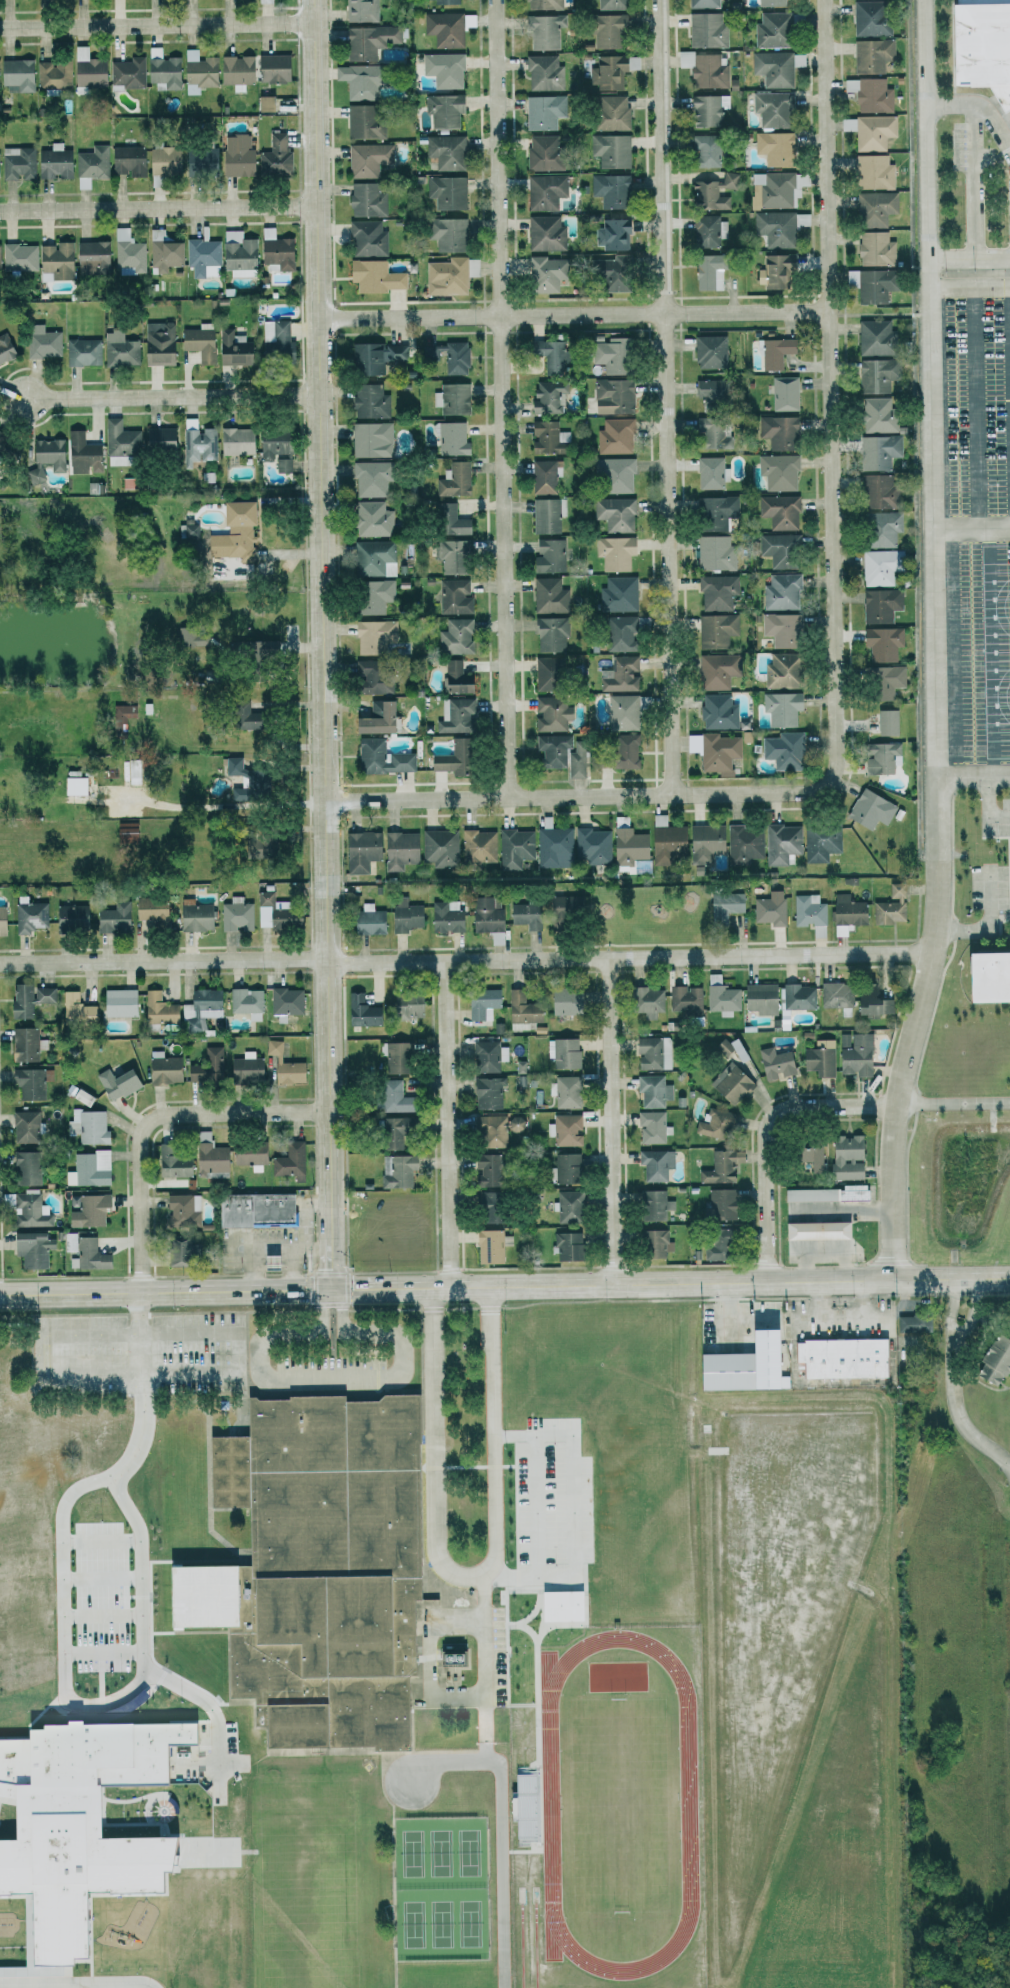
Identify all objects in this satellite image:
building: (263, 1)
building: (443, 1)
building: (771, 2)
building: (542, 3)
building: (703, 3)
building: (610, 4)
building: (360, 10)
building: (870, 18)
road: (157, 27)
building: (444, 28)
building: (605, 28)
building: (707, 29)
building: (772, 29)
building: (542, 31)
building: (368, 40)
building: (983, 45)
building: (871, 54)
building: (797, 60)
building: (272, 68)
building: (773, 68)
building: (443, 69)
building: (703, 69)
building: (610, 70)
building: (87, 71)
building: (198, 71)
building: (236, 71)
building: (127, 73)
building: (164, 73)
building: (544, 73)
building: (16, 75)
building: (52, 75)
building: (357, 80)
building: (869, 94)
building: (264, 103)
road: (977, 105)
building: (707, 109)
building: (772, 109)
building: (443, 110)
building: (542, 112)
building: (611, 113)
building: (362, 122)
building: (873, 132)
building: (774, 147)
building: (610, 150)
building: (445, 151)
building: (704, 151)
building: (543, 152)
building: (235, 155)
building: (275, 157)
building: (366, 159)
building: (126, 160)
building: (162, 160)
building: (199, 160)
building: (17, 162)
building: (90, 162)
building: (52, 163)
building: (870, 171)
road: (973, 182)
building: (772, 189)
building: (610, 190)
building: (544, 191)
building: (447, 192)
building: (712, 192)
building: (874, 208)
road: (157, 211)
building: (775, 228)
building: (707, 230)
building: (446, 233)
building: (545, 233)
building: (611, 234)
building: (366, 238)
building: (874, 248)
building: (127, 252)
building: (162, 252)
building: (275, 252)
building: (236, 253)
building: (19, 256)
building: (91, 257)
building: (201, 257)
road: (969, 259)
building: (55, 261)
building: (771, 270)
building: (708, 272)
building: (607, 273)
building: (543, 274)
building: (373, 276)
building: (446, 276)
building: (870, 284)
road: (970, 287)
road: (880, 313)
road: (573, 318)
building: (275, 341)
building: (157, 342)
building: (42, 343)
building: (197, 343)
building: (5, 348)
building: (231, 348)
building: (118, 349)
building: (82, 351)
building: (709, 351)
building: (774, 352)
building: (549, 354)
building: (607, 354)
building: (447, 356)
building: (374, 357)
building: (876, 374)
building: (707, 391)
road: (829, 391)
building: (783, 393)
building: (612, 396)
road: (168, 397)
building: (548, 397)
road: (665, 397)
building: (451, 398)
road: (501, 398)
building: (371, 401)
road: (976, 408)
building: (876, 414)
building: (778, 431)
building: (707, 432)
building: (615, 436)
building: (548, 437)
building: (451, 438)
building: (372, 439)
building: (159, 441)
building: (235, 441)
building: (197, 445)
building: (8, 449)
building: (273, 449)
building: (877, 451)
building: (81, 454)
building: (44, 458)
building: (778, 471)
building: (708, 472)
building: (615, 474)
building: (544, 476)
building: (370, 478)
building: (454, 479)
building: (877, 492)
building: (779, 511)
building: (715, 512)
building: (614, 514)
building: (546, 515)
building: (372, 518)
building: (448, 520)
building: (236, 528)
building: (880, 528)
road: (972, 529)
building: (187, 530)
building: (779, 549)
building: (614, 552)
building: (715, 552)
building: (452, 556)
building: (548, 556)
building: (374, 558)
building: (879, 566)
building: (716, 591)
building: (781, 591)
building: (547, 594)
building: (618, 594)
building: (373, 596)
building: (453, 596)
building: (879, 605)
building: (780, 629)
building: (715, 630)
building: (619, 633)
building: (550, 634)
building: (375, 637)
building: (455, 637)
road: (935, 641)
building: (881, 643)
road: (321, 644)
road: (991, 652)
building: (716, 670)
building: (778, 671)
building: (547, 673)
building: (619, 674)
building: (370, 678)
building: (454, 678)
building: (883, 681)
building: (780, 708)
building: (716, 711)
building: (621, 712)
building: (551, 713)
building: (242, 714)
building: (454, 715)
building: (121, 718)
building: (373, 720)
building: (886, 722)
building: (552, 749)
building: (782, 750)
building: (575, 753)
building: (717, 753)
building: (380, 757)
building: (880, 757)
building: (452, 758)
building: (231, 765)
building: (131, 771)
road: (973, 775)
building: (74, 785)
road: (577, 795)
road: (209, 805)
road: (989, 805)
building: (869, 809)
building: (124, 832)
building: (820, 841)
building: (667, 842)
building: (704, 843)
building: (743, 843)
building: (781, 843)
building: (591, 845)
building: (477, 846)
building: (627, 846)
building: (439, 847)
building: (553, 847)
building: (514, 848)
building: (398, 850)
building: (359, 851)
building: (724, 905)
building: (890, 905)
building: (564, 907)
building: (149, 910)
building: (769, 910)
building: (274, 912)
building: (809, 912)
building: (485, 913)
building: (846, 913)
building: (236, 914)
building: (524, 914)
building: (445, 915)
building: (29, 916)
building: (69, 916)
building: (194, 916)
building: (112, 917)
building: (404, 917)
building: (1, 919)
building: (367, 919)
road: (991, 926)
building: (495, 937)
road: (465, 966)
building: (990, 977)
building: (835, 994)
building: (797, 995)
building: (27, 997)
building: (760, 997)
building: (722, 998)
building: (646, 1000)
building: (117, 1001)
building: (285, 1001)
building: (563, 1001)
building: (685, 1001)
building: (870, 1001)
building: (245, 1002)
building: (481, 1003)
building: (74, 1005)
building: (405, 1006)
building: (157, 1008)
building: (199, 1008)
building: (520, 1008)
building: (360, 1010)
building: (23, 1043)
building: (563, 1051)
building: (653, 1052)
building: (854, 1053)
building: (487, 1055)
building: (395, 1056)
building: (819, 1057)
building: (774, 1062)
building: (283, 1064)
building: (205, 1065)
building: (162, 1067)
building: (245, 1067)
building: (30, 1081)
building: (116, 1082)
building: (730, 1083)
building: (564, 1090)
building: (652, 1090)
building: (486, 1092)
building: (389, 1095)
road: (952, 1103)
road: (152, 1119)
building: (714, 1122)
road: (608, 1123)
building: (651, 1125)
building: (24, 1126)
building: (88, 1126)
road: (446, 1127)
building: (495, 1128)
building: (565, 1129)
building: (389, 1132)
road: (766, 1134)
building: (247, 1152)
building: (208, 1154)
building: (807, 1154)
building: (844, 1157)
building: (288, 1160)
building: (170, 1161)
building: (654, 1163)
building: (720, 1165)
building: (25, 1167)
building: (88, 1168)
building: (564, 1168)
building: (484, 1169)
building: (396, 1170)
building: (825, 1193)
building: (720, 1203)
building: (653, 1204)
building: (487, 1206)
building: (568, 1206)
building: (85, 1209)
building: (253, 1209)
building: (29, 1210)
building: (181, 1210)
road: (306, 1215)
building: (815, 1229)
building: (653, 1242)
building: (490, 1245)
building: (566, 1245)
building: (716, 1246)
road: (270, 1247)
building: (178, 1250)
building: (87, 1254)
road: (288, 1268)
road: (702, 1282)
road: (361, 1288)
traffic signals: (330, 1289)
road: (164, 1290)
road: (722, 1308)
road: (840, 1313)
building: (912, 1323)
building: (840, 1357)
building: (993, 1358)
building: (741, 1365)
road: (114, 1375)
road: (335, 1376)
road: (954, 1383)
building: (8, 1421)
road: (499, 1437)
building: (15, 1494)
road: (571, 1509)
road: (1004, 1523)
road: (444, 1537)
building: (313, 1574)
building: (558, 1605)
building: (1, 1627)
road: (436, 1650)
building: (449, 1658)
road: (61, 1667)
road: (203, 1703)
road: (470, 1765)
road: (386, 1780)
building: (523, 1805)
building: (76, 1831)
road: (503, 1876)

